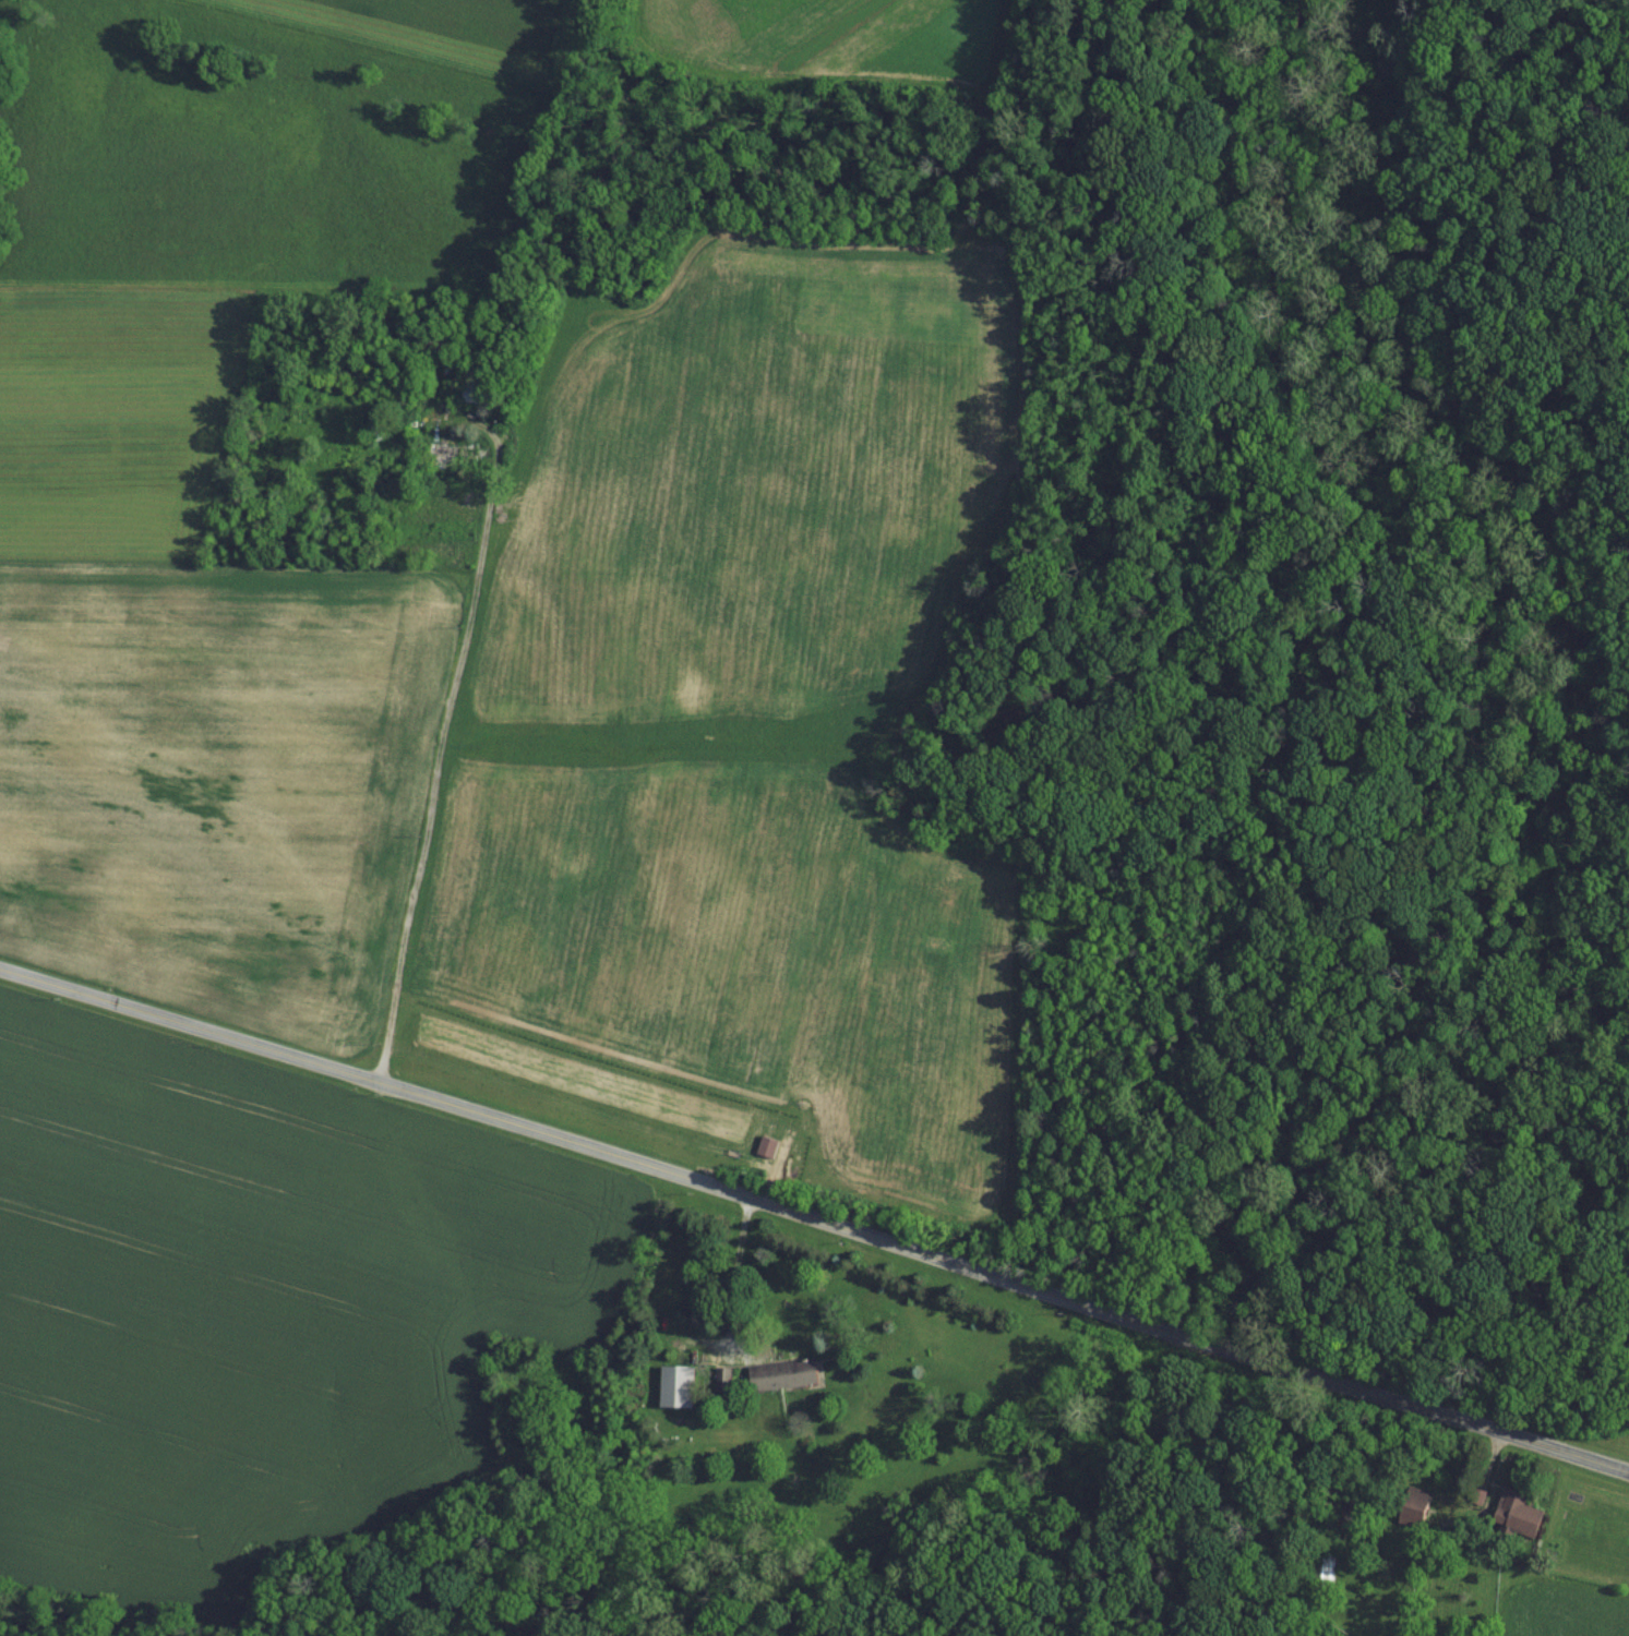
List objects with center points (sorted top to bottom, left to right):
building: (476, 390)
building: (458, 452)
road: (436, 766)
road: (815, 1218)
road: (734, 1274)
building: (788, 1373)
building: (680, 1384)
building: (1522, 1508)

